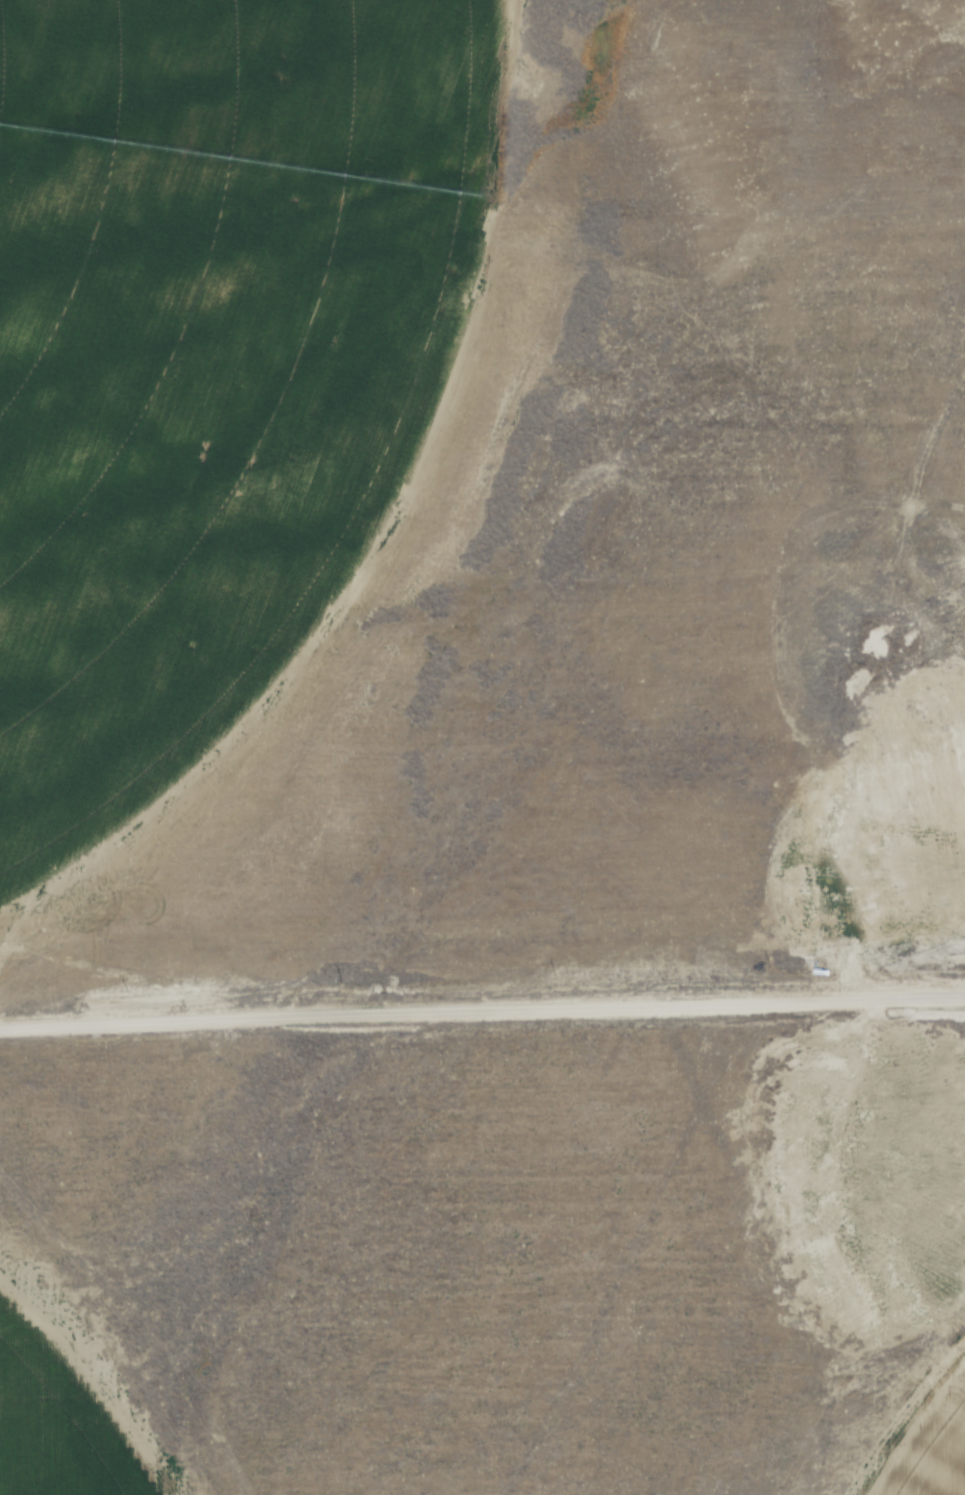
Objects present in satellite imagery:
crop: (952, 1477)

